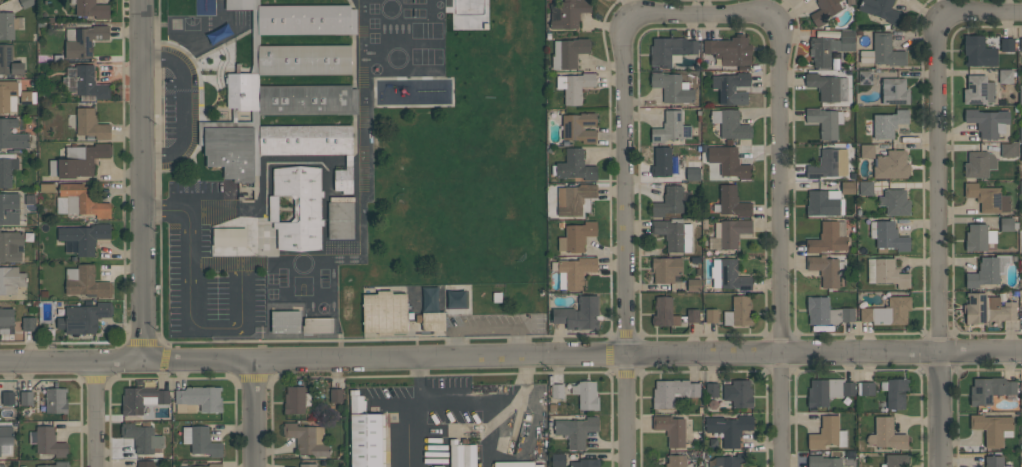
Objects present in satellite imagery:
building: (238, 4)
building: (91, 8)
building: (880, 9)
building: (825, 10)
building: (570, 13)
building: (304, 19)
building: (7, 25)
building: (83, 40)
building: (1007, 44)
building: (1021, 44)
building: (829, 48)
building: (671, 50)
building: (729, 50)
building: (883, 51)
building: (978, 51)
building: (568, 52)
building: (304, 60)
building: (9, 61)
building: (1005, 75)
building: (865, 77)
building: (89, 83)
building: (574, 86)
building: (828, 86)
building: (673, 87)
building: (731, 88)
building: (978, 90)
building: (242, 91)
building: (894, 91)
building: (8, 95)
building: (27, 97)
building: (1020, 97)
building: (305, 100)
road: (182, 107)
building: (825, 121)
building: (989, 122)
building: (888, 123)
building: (90, 124)
building: (730, 124)
building: (579, 127)
building: (671, 128)
building: (1020, 134)
building: (11, 135)
building: (305, 140)
building: (1009, 149)
building: (231, 151)
building: (867, 151)
building: (1020, 153)
building: (79, 160)
building: (662, 161)
building: (728, 161)
building: (829, 163)
building: (979, 164)
building: (892, 165)
building: (573, 166)
building: (7, 168)
road: (124, 170)
road: (159, 170)
building: (692, 171)
road: (625, 173)
road: (140, 181)
building: (848, 187)
building: (1020, 187)
building: (865, 188)
building: (987, 198)
building: (83, 200)
building: (574, 200)
building: (669, 201)
road: (938, 201)
building: (731, 202)
building: (824, 202)
building: (895, 202)
building: (297, 207)
building: (9, 208)
road: (186, 215)
building: (340, 218)
building: (1008, 224)
building: (729, 233)
building: (673, 234)
building: (229, 236)
building: (576, 236)
building: (888, 236)
building: (83, 237)
building: (828, 237)
building: (978, 237)
road: (779, 238)
building: (11, 246)
building: (666, 269)
building: (826, 269)
building: (988, 270)
building: (574, 271)
building: (886, 273)
building: (728, 275)
building: (11, 280)
building: (85, 282)
building: (694, 285)
building: (456, 299)
building: (429, 301)
building: (987, 309)
building: (664, 312)
building: (738, 312)
building: (826, 312)
building: (888, 312)
building: (384, 313)
building: (578, 314)
building: (692, 315)
building: (711, 315)
building: (83, 317)
building: (6, 320)
building: (433, 321)
building: (285, 322)
building: (29, 324)
road: (241, 325)
building: (317, 325)
road: (141, 341)
road: (511, 358)
building: (865, 388)
building: (712, 390)
building: (990, 390)
building: (557, 391)
building: (827, 391)
building: (672, 392)
building: (895, 392)
building: (738, 393)
building: (586, 394)
building: (335, 395)
building: (7, 397)
building: (26, 398)
building: (141, 399)
building: (198, 399)
building: (55, 400)
building: (296, 400)
road: (468, 401)
road: (93, 414)
road: (254, 414)
building: (729, 428)
building: (993, 428)
building: (670, 429)
building: (576, 430)
building: (364, 433)
building: (827, 433)
building: (886, 434)
road: (417, 435)
building: (307, 438)
building: (6, 439)
building: (142, 439)
building: (200, 441)
building: (49, 442)
building: (463, 455)
building: (558, 459)
building: (730, 460)
building: (895, 460)
building: (676, 461)
building: (822, 461)
building: (994, 461)
building: (586, 463)
building: (56, 464)
building: (145, 464)
building: (215, 464)
building: (517, 464)
building: (2, 465)
building: (307, 465)
building: (850, 466)

